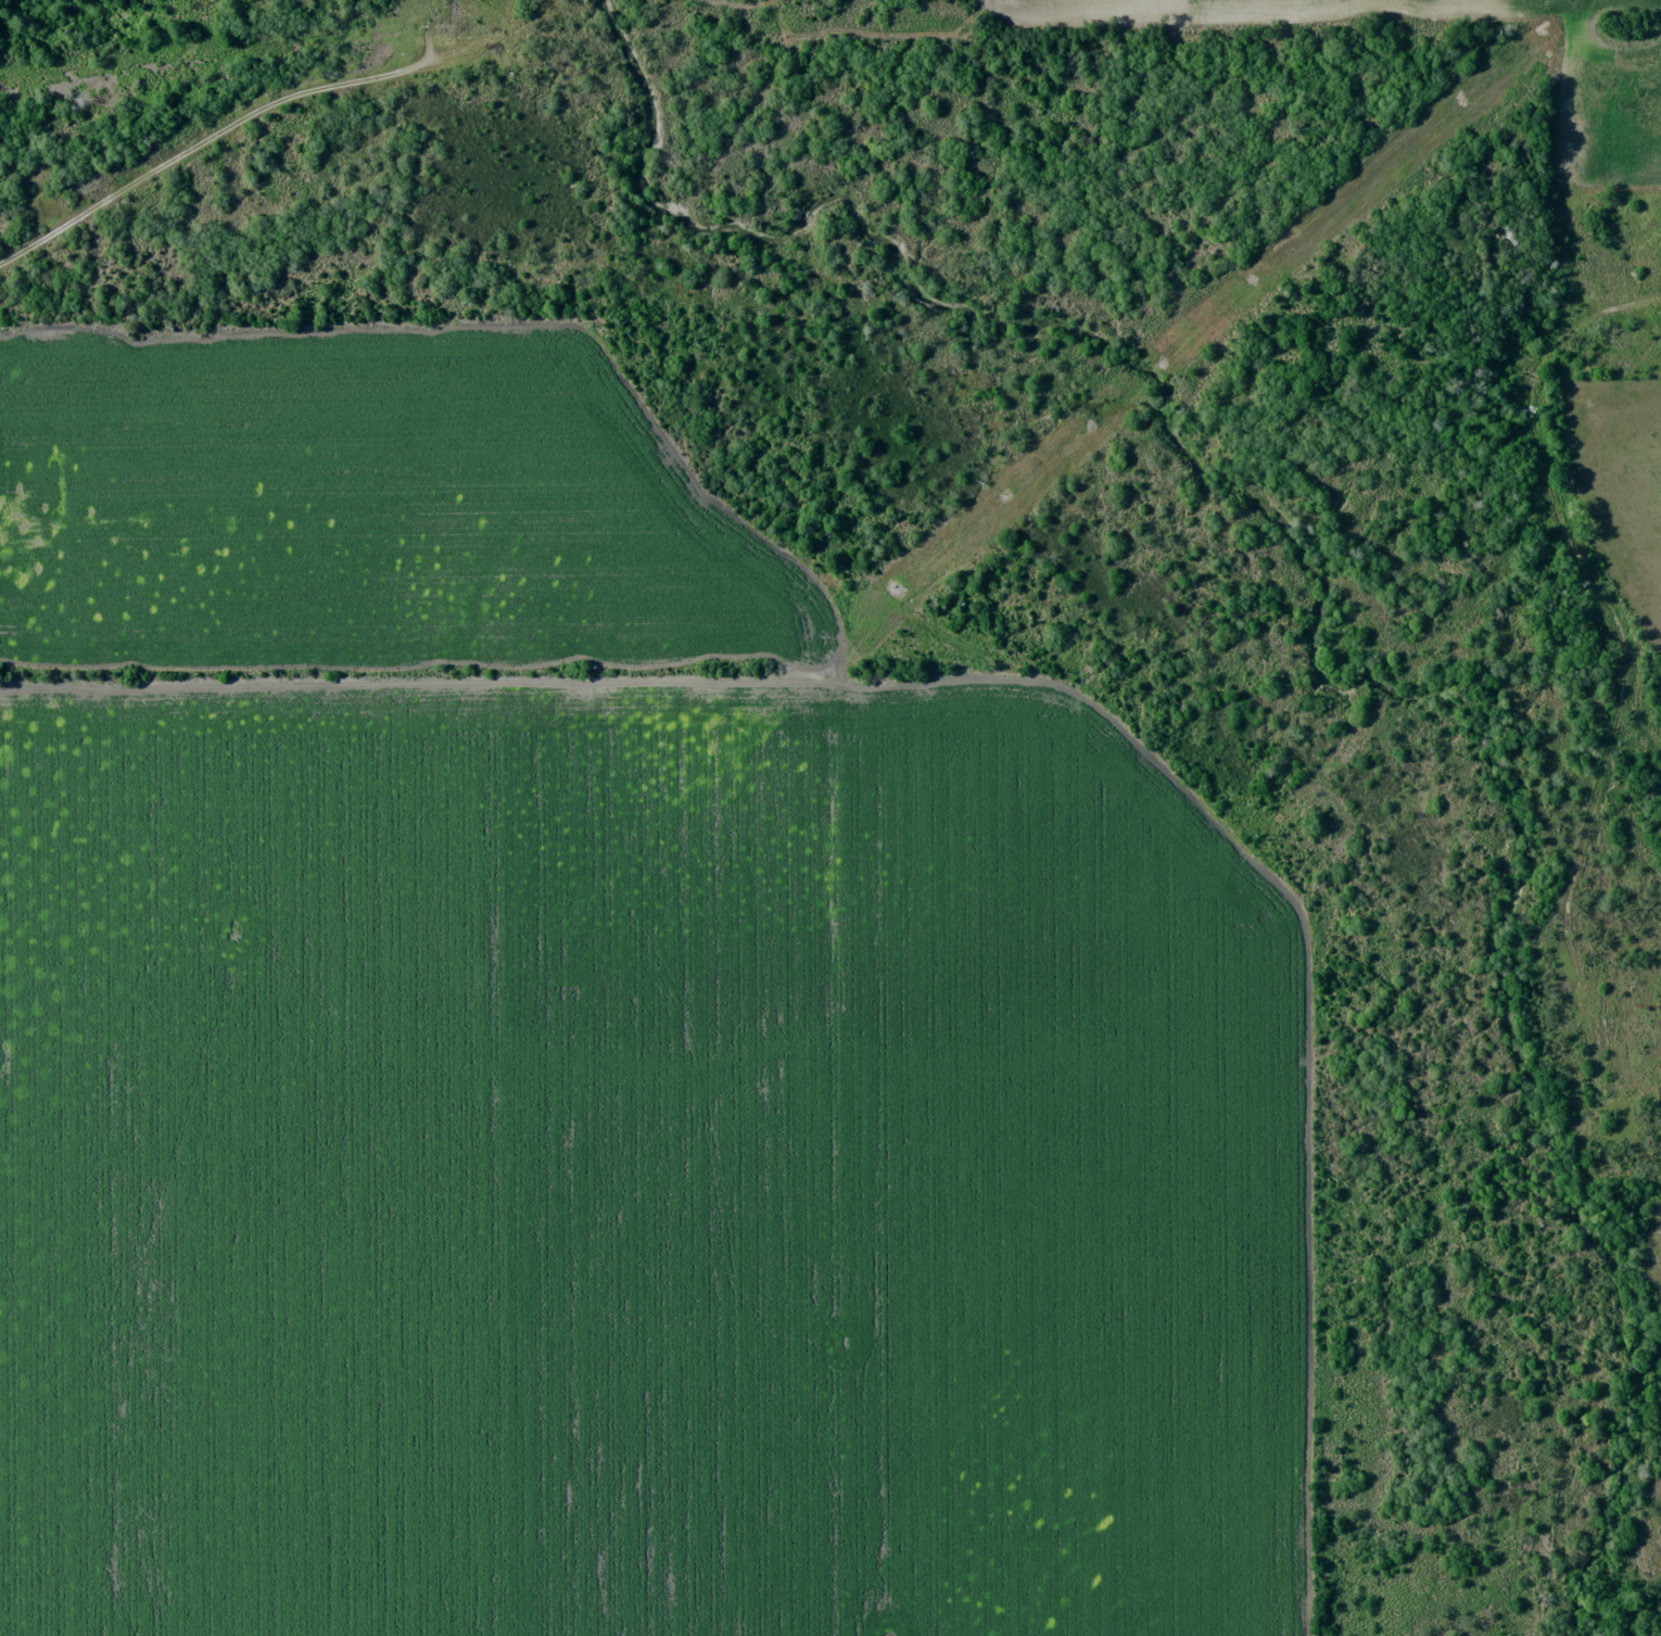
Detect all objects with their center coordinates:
road: (1619, 308)

